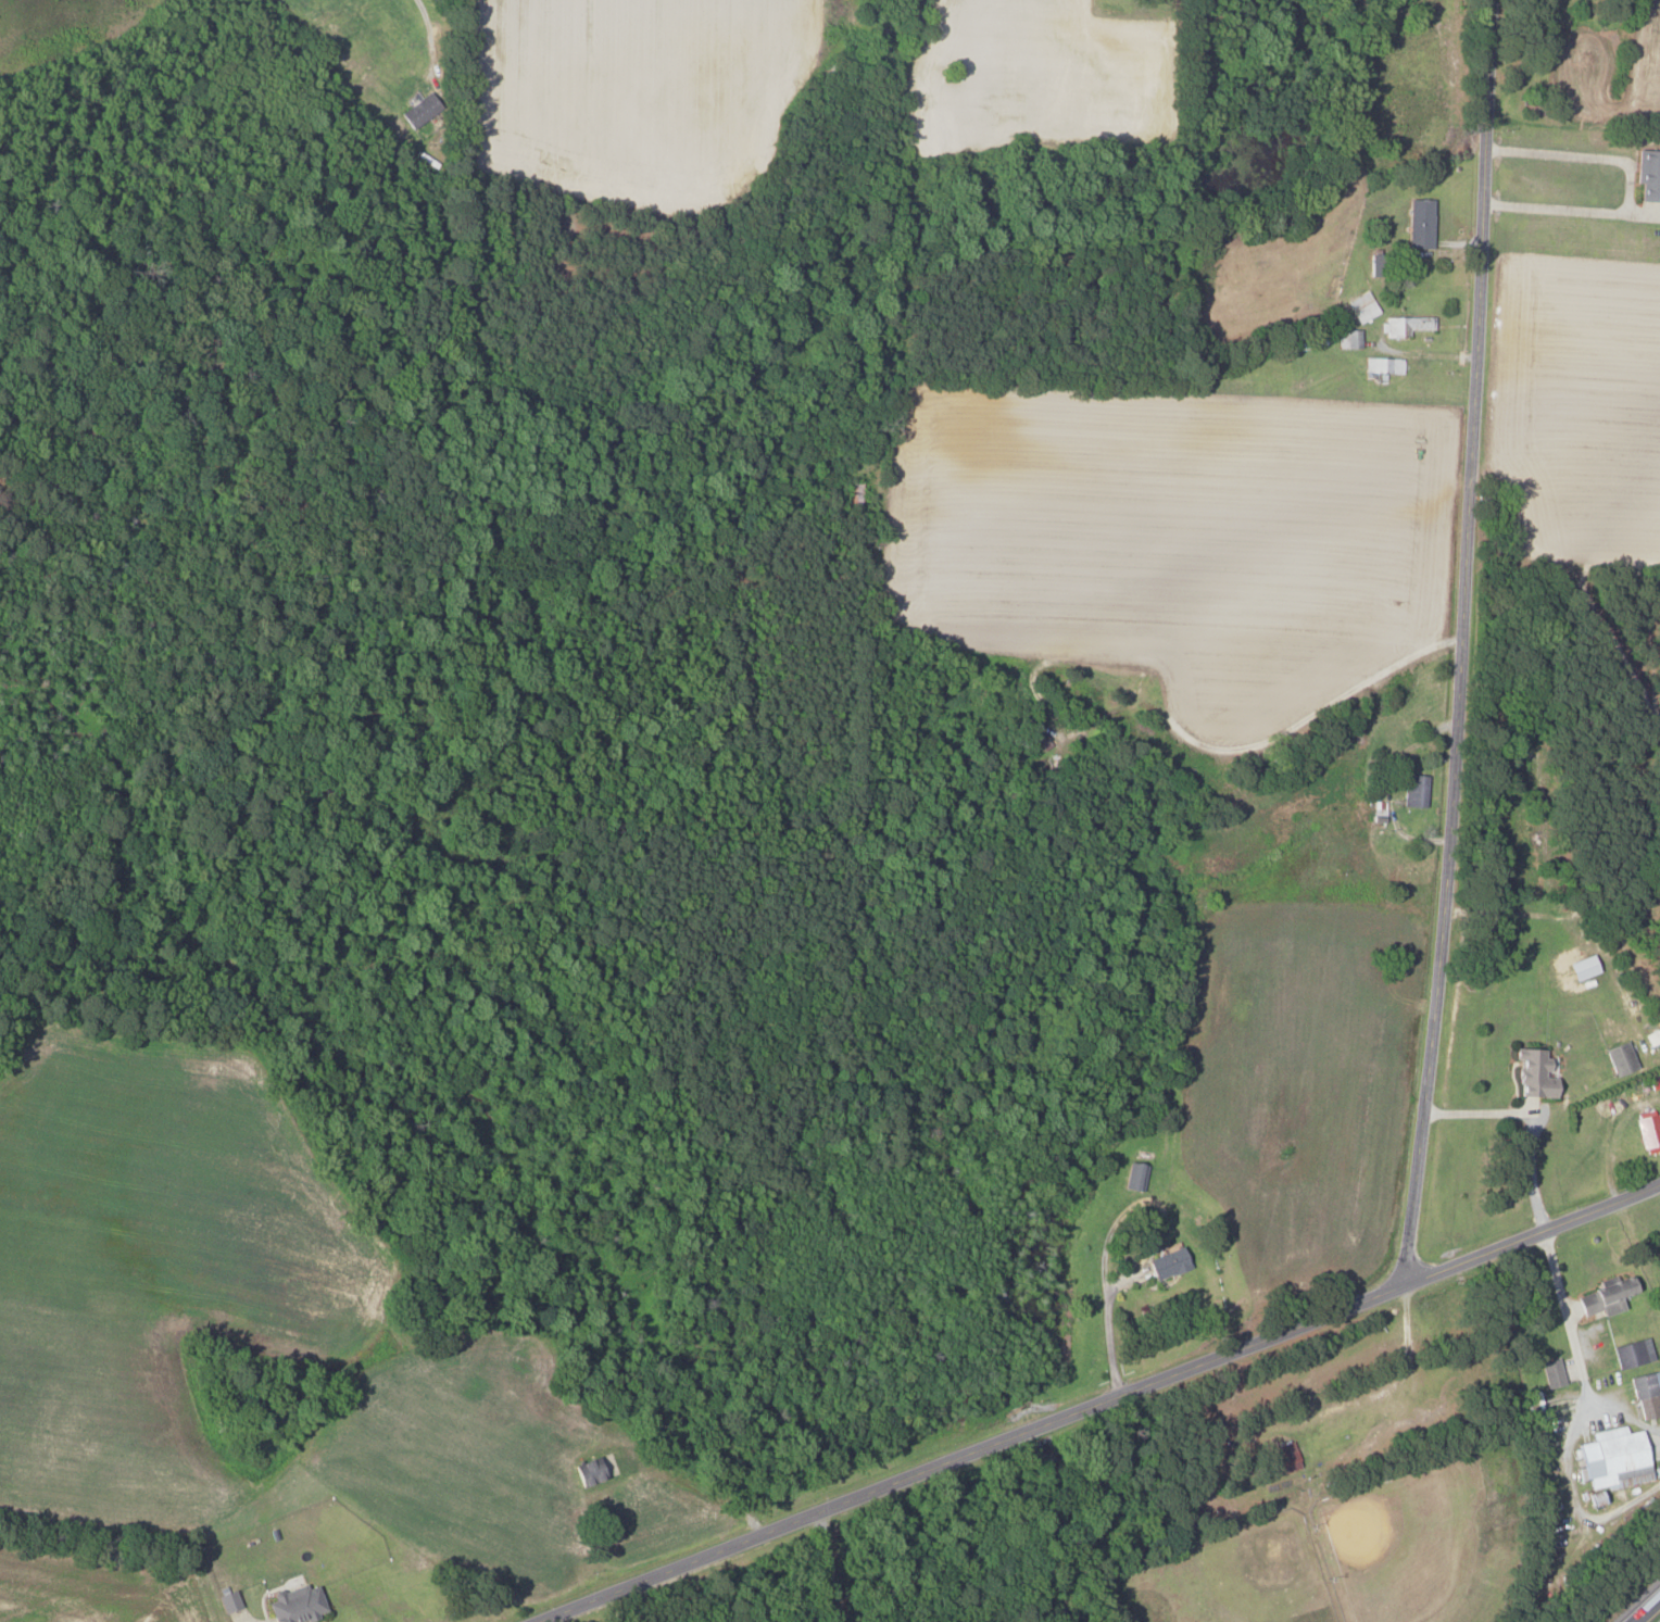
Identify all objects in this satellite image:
road: (429, 37)
building: (418, 110)
building: (1647, 175)
road: (1630, 184)
building: (1419, 224)
building: (1361, 307)
building: (1404, 326)
building: (1348, 339)
building: (1382, 365)
building: (855, 494)
road: (1460, 642)
building: (1040, 738)
building: (1413, 792)
building: (1580, 967)
building: (1619, 1057)
building: (1532, 1073)
road: (1531, 1119)
building: (1648, 1133)
building: (1134, 1177)
building: (1165, 1262)
building: (1604, 1297)
road: (1564, 1320)
building: (1631, 1353)
building: (1550, 1372)
building: (1646, 1393)
road: (1095, 1401)
building: (1611, 1458)
park: (1418, 1544)
road: (827, 1563)
park: (1224, 1576)
building: (227, 1599)
building: (294, 1605)
road: (1648, 1611)
road: (234, 1618)

